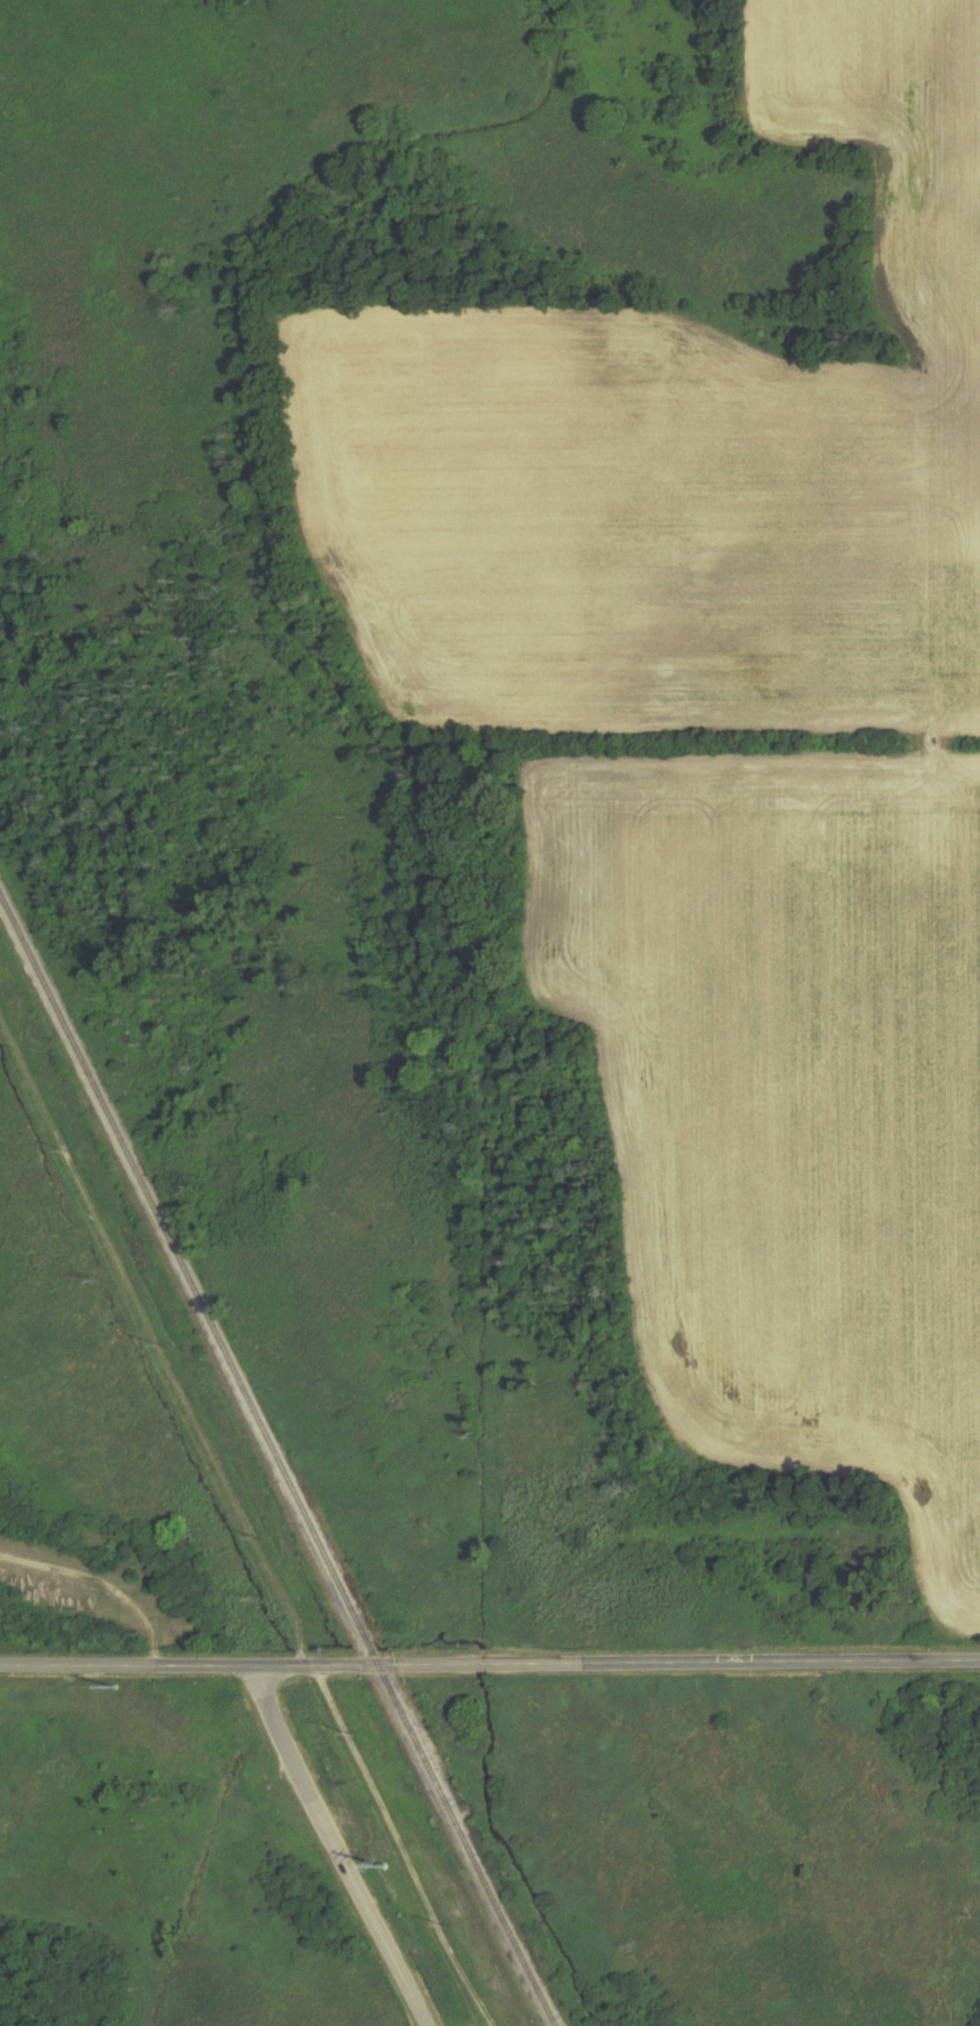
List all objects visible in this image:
power tower: (106, 1285)
railway: (278, 1462)
power tower: (261, 1600)
road: (490, 1665)
power tower: (130, 1688)
road: (341, 1847)
power tower: (384, 1850)

